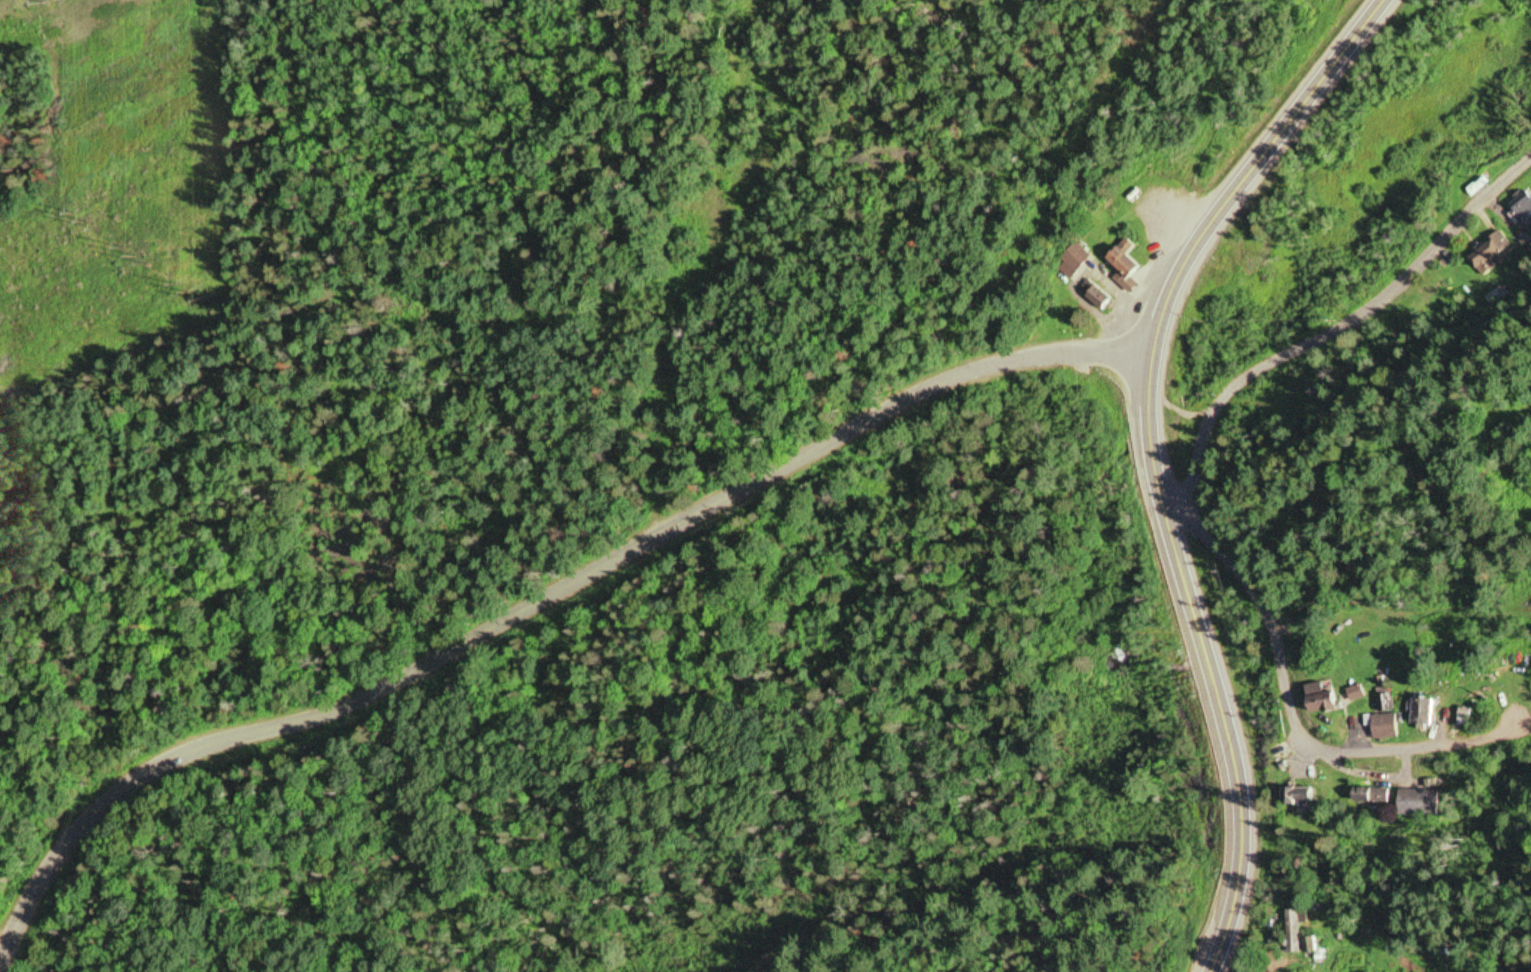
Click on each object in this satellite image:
building: (1481, 177)
building: (1521, 204)
building: (1488, 252)
building: (1070, 261)
building: (1124, 265)
building: (1094, 294)
road: (1325, 328)
road: (1153, 458)
road: (535, 603)
road: (1287, 675)
building: (1320, 699)
building: (1421, 712)
building: (1384, 726)
building: (1280, 751)
building: (1295, 795)
building: (1369, 795)
building: (1417, 803)
building: (1292, 927)

